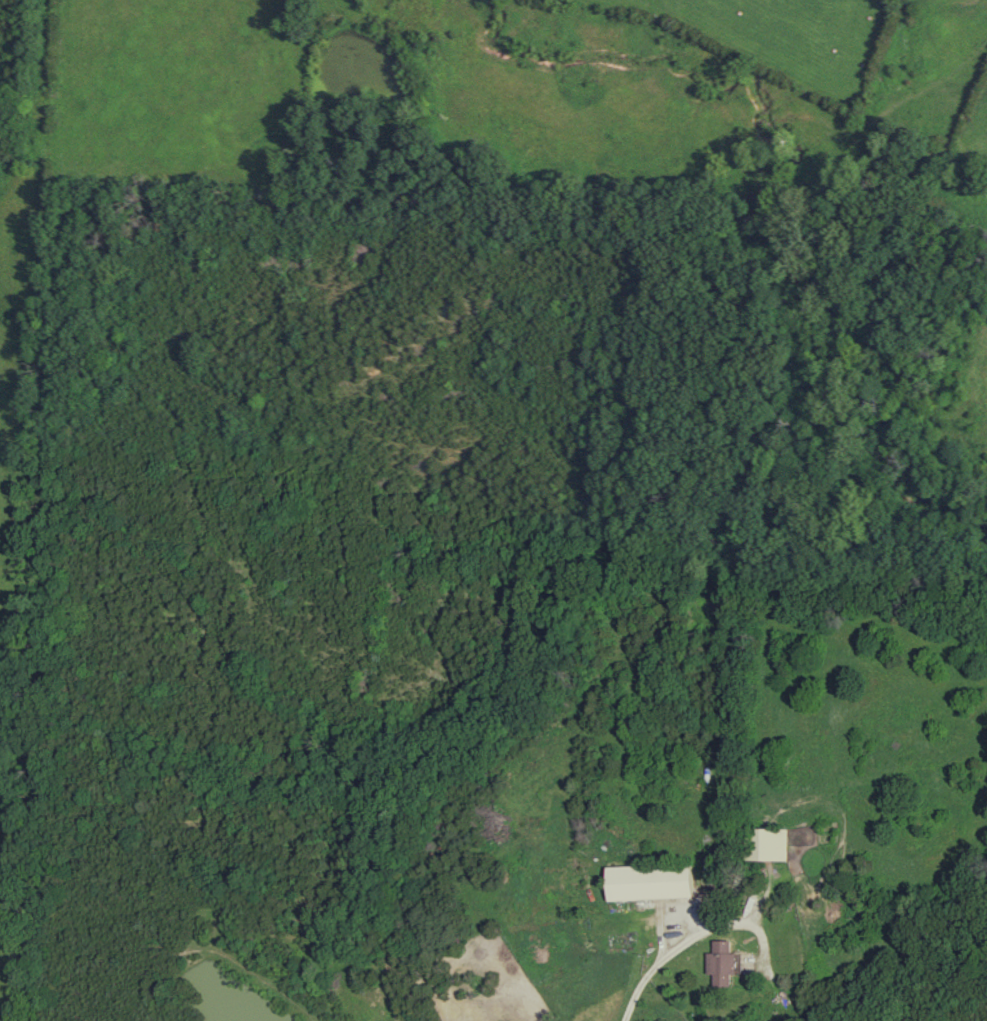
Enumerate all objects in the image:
building: (765, 844)
building: (648, 882)
road: (676, 951)
building: (721, 964)

